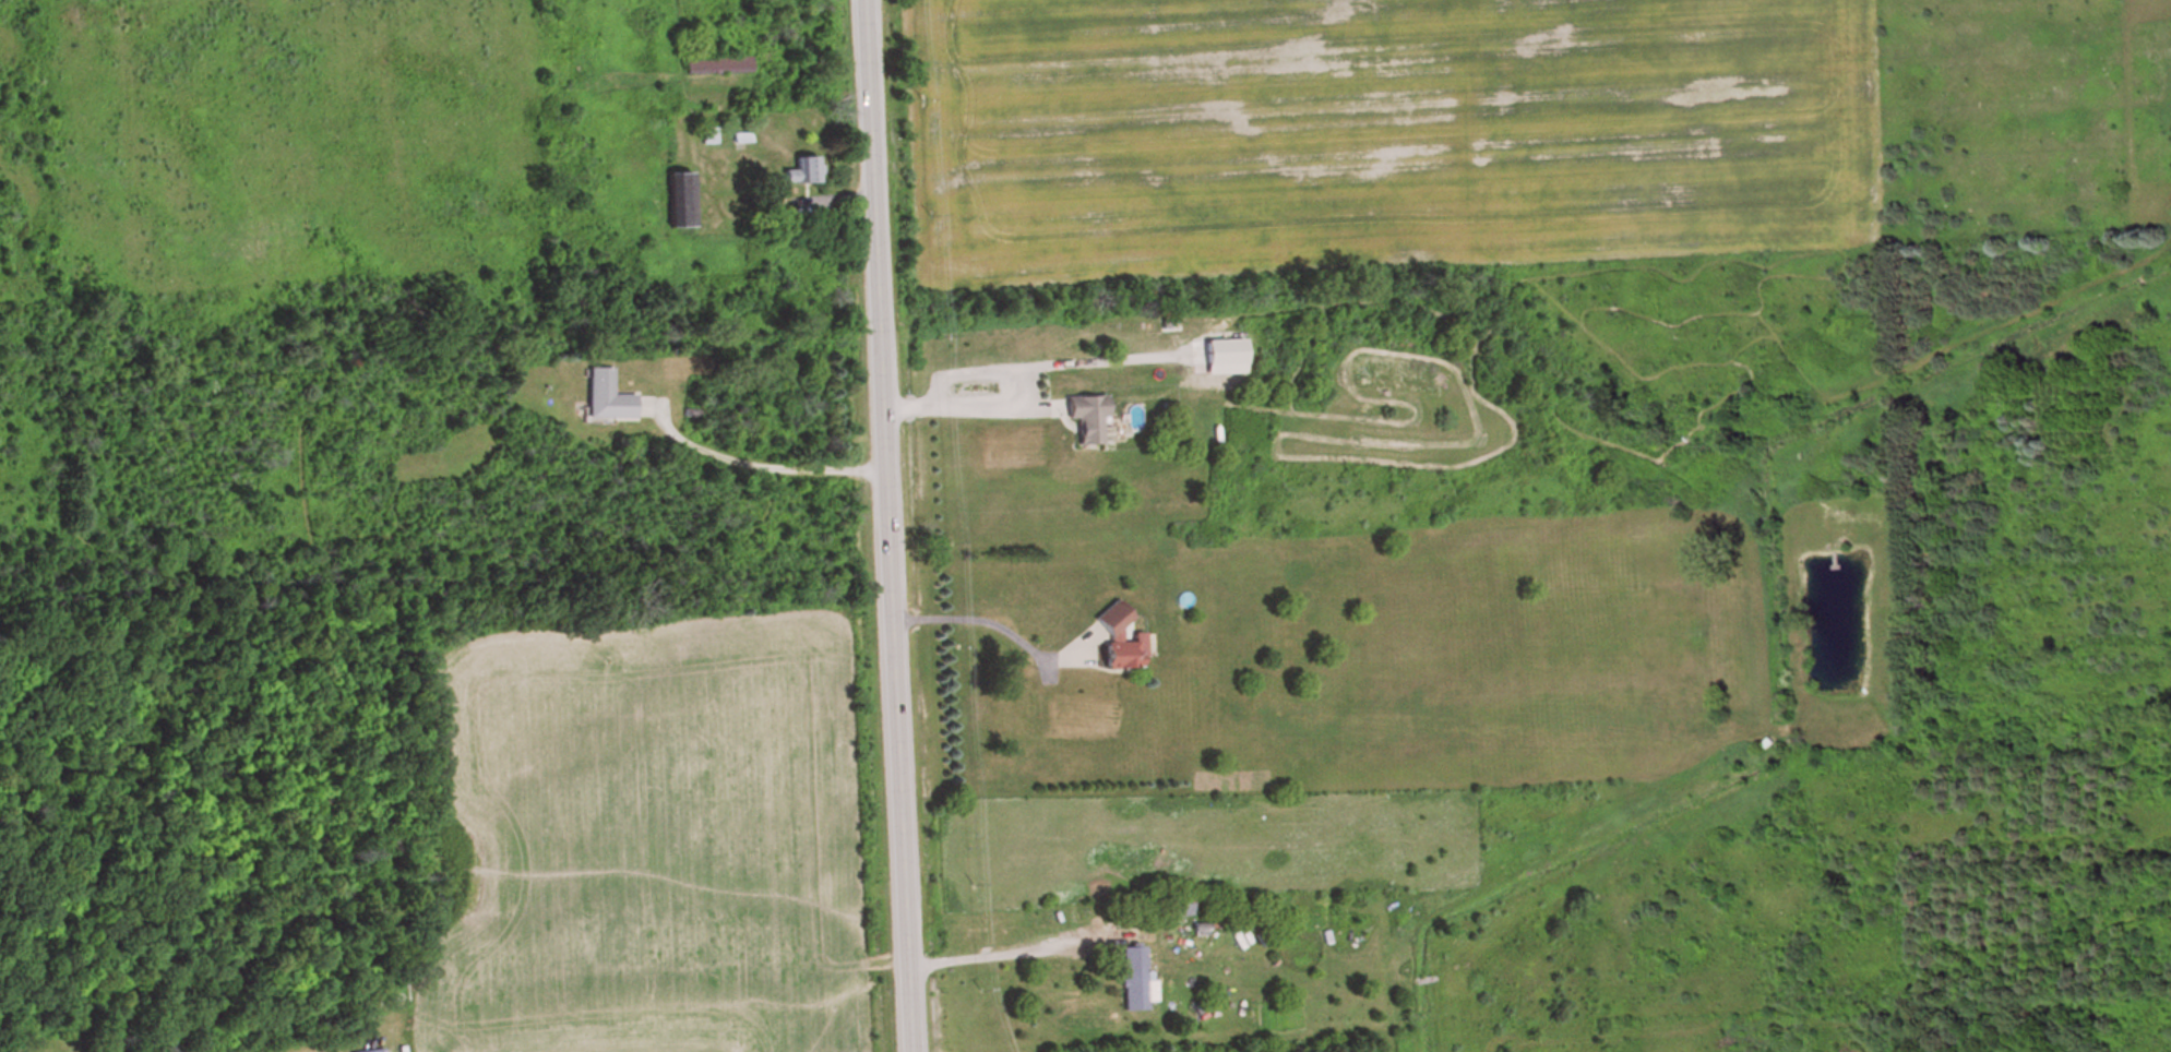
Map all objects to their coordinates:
building: (719, 67)
building: (803, 171)
building: (679, 201)
building: (608, 398)
building: (1088, 420)
road: (761, 465)
road: (881, 526)
road: (978, 622)
building: (1120, 642)
road: (977, 957)
building: (1135, 982)
building: (381, 1051)

